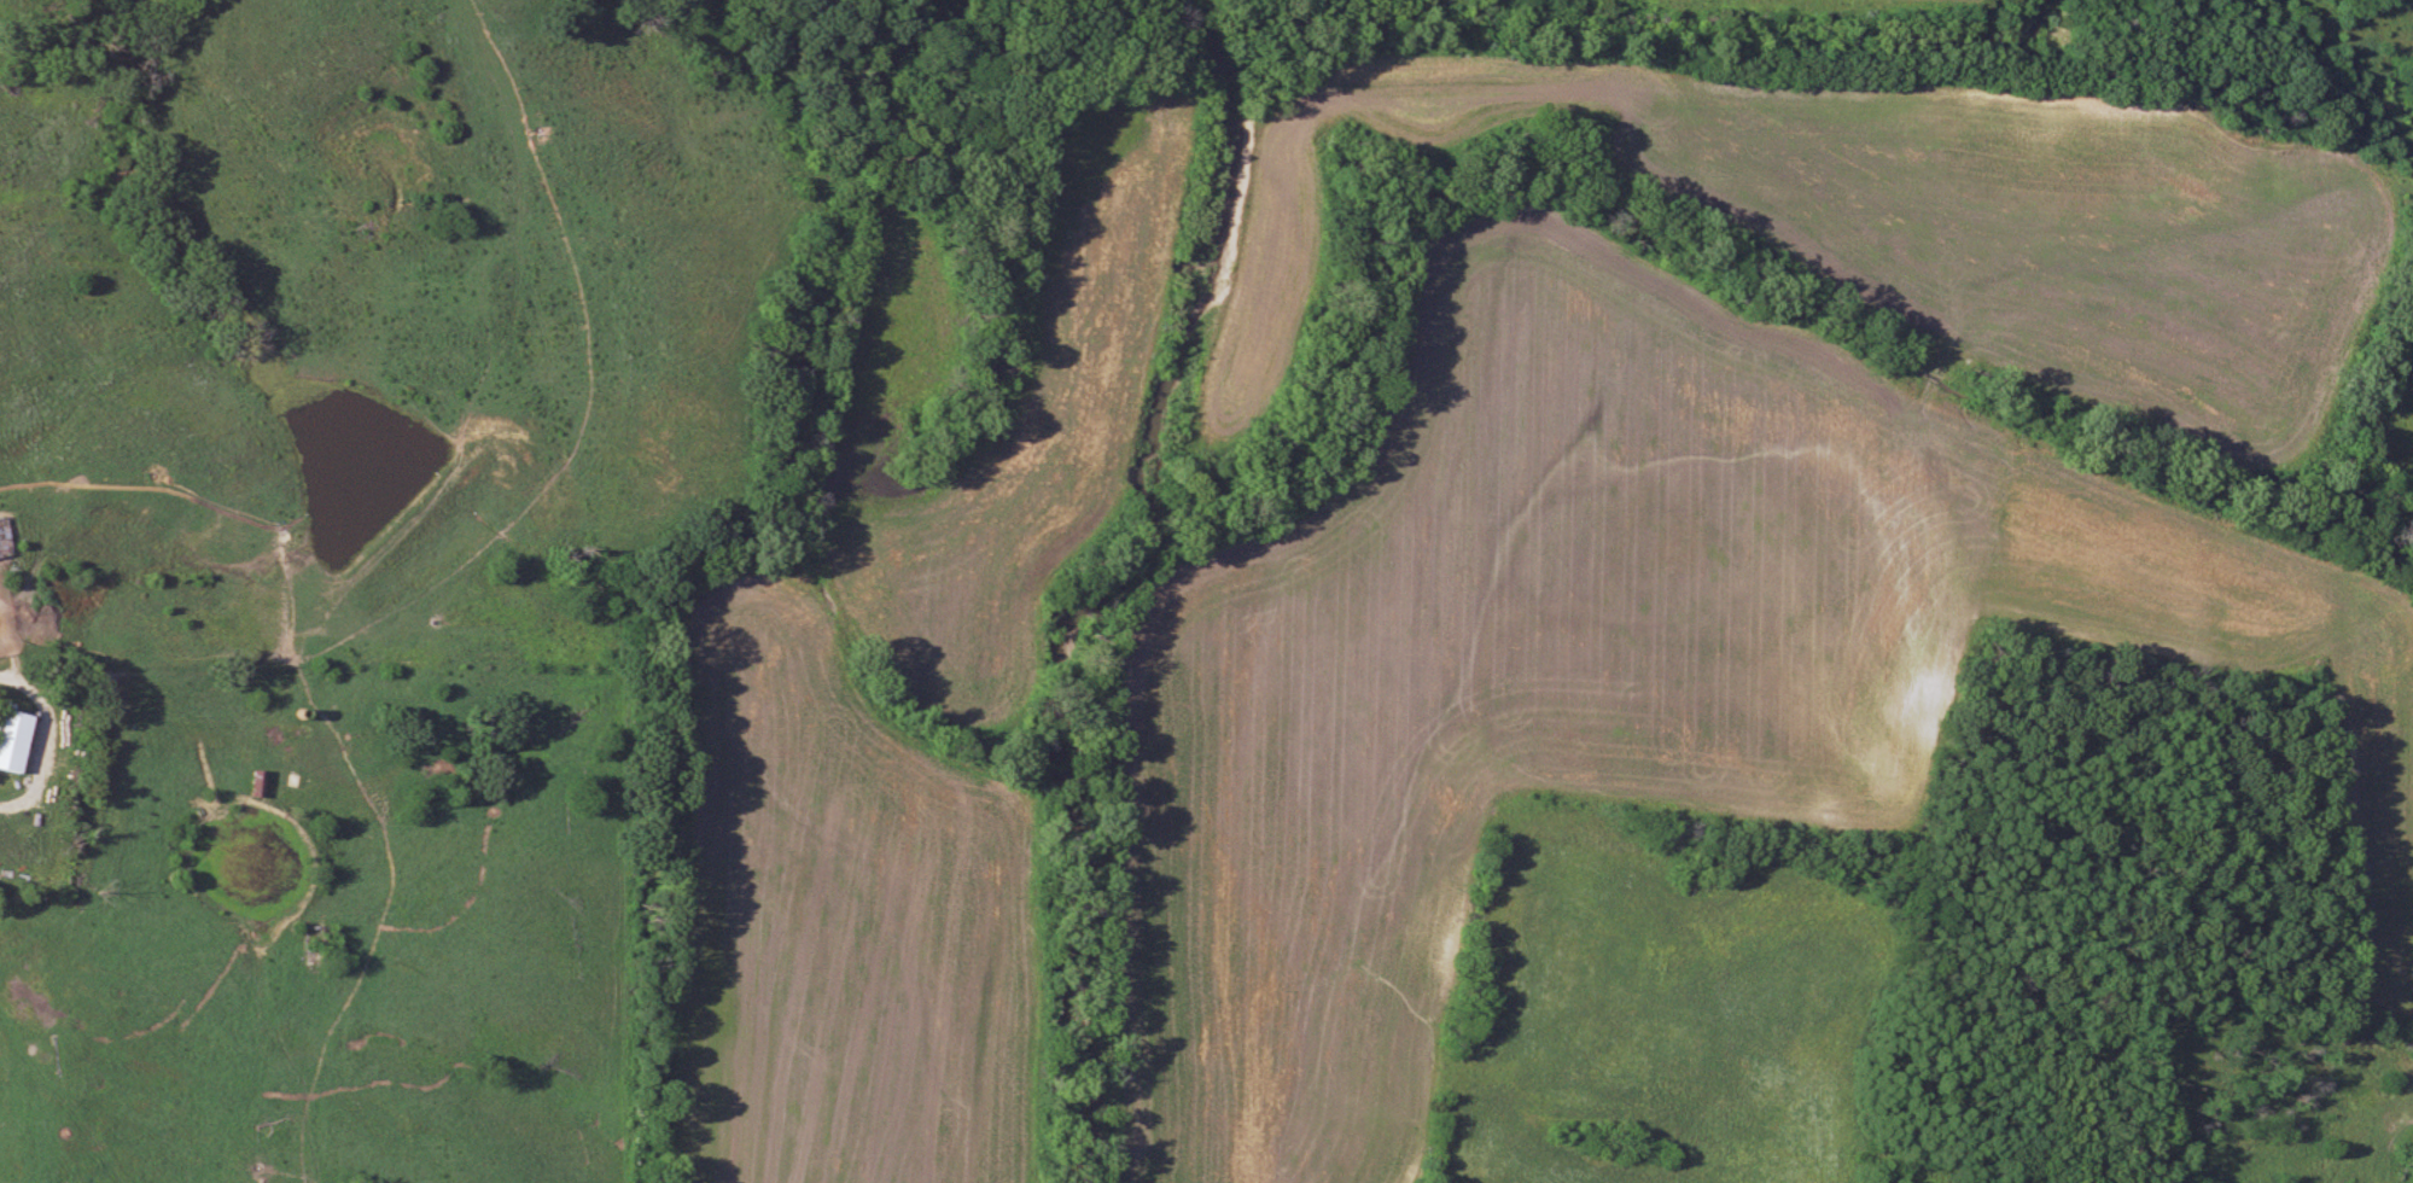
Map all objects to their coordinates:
building: (6, 540)
building: (16, 740)

